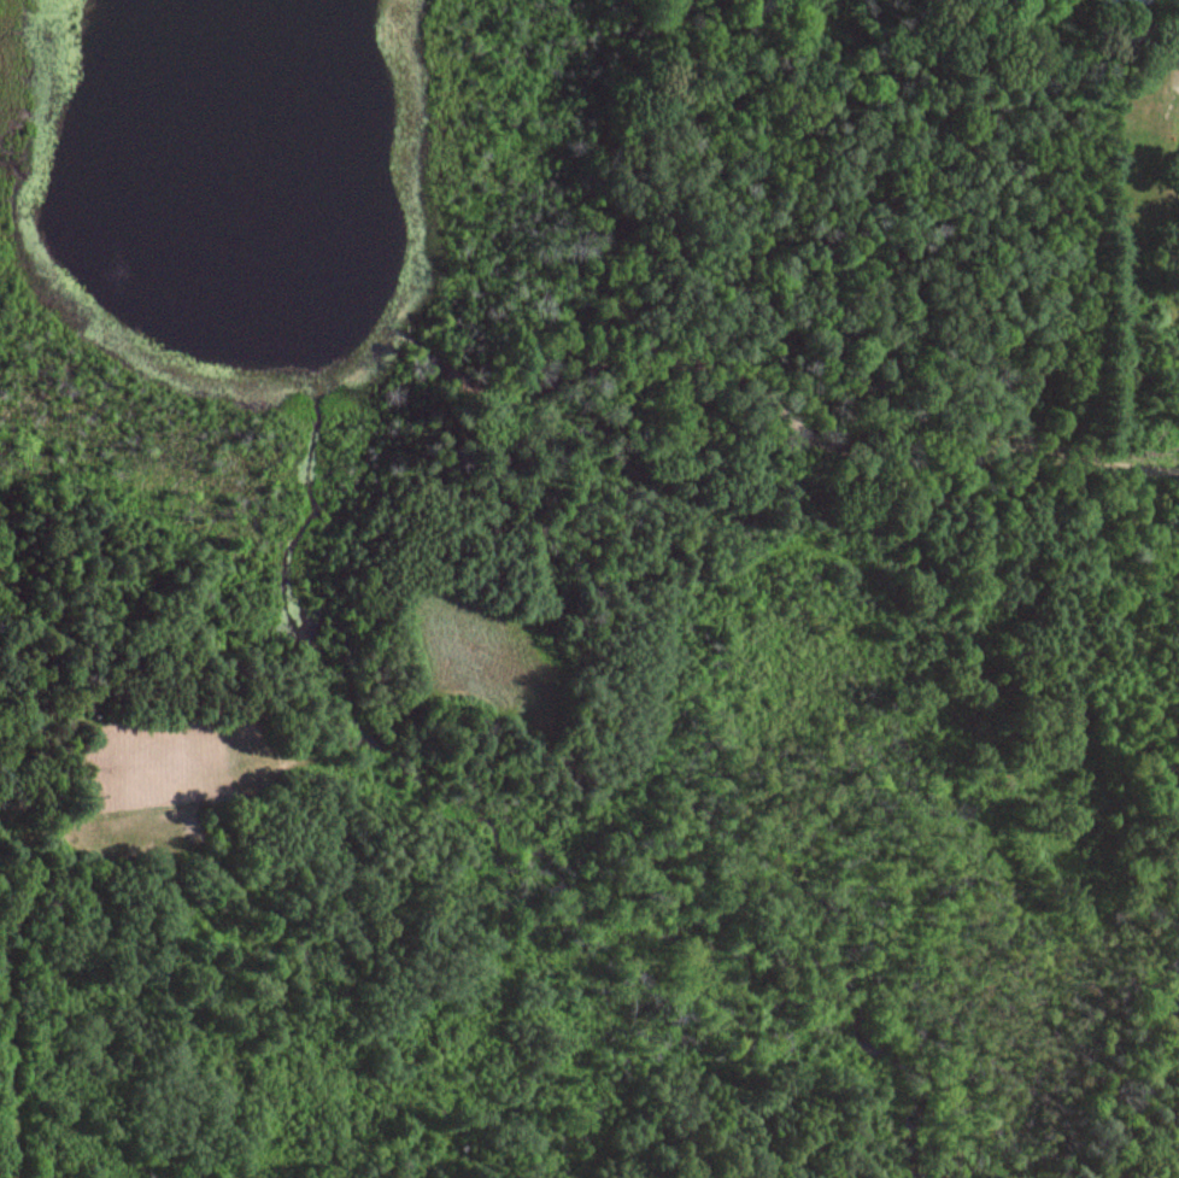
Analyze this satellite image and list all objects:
road: (1115, 1063)

